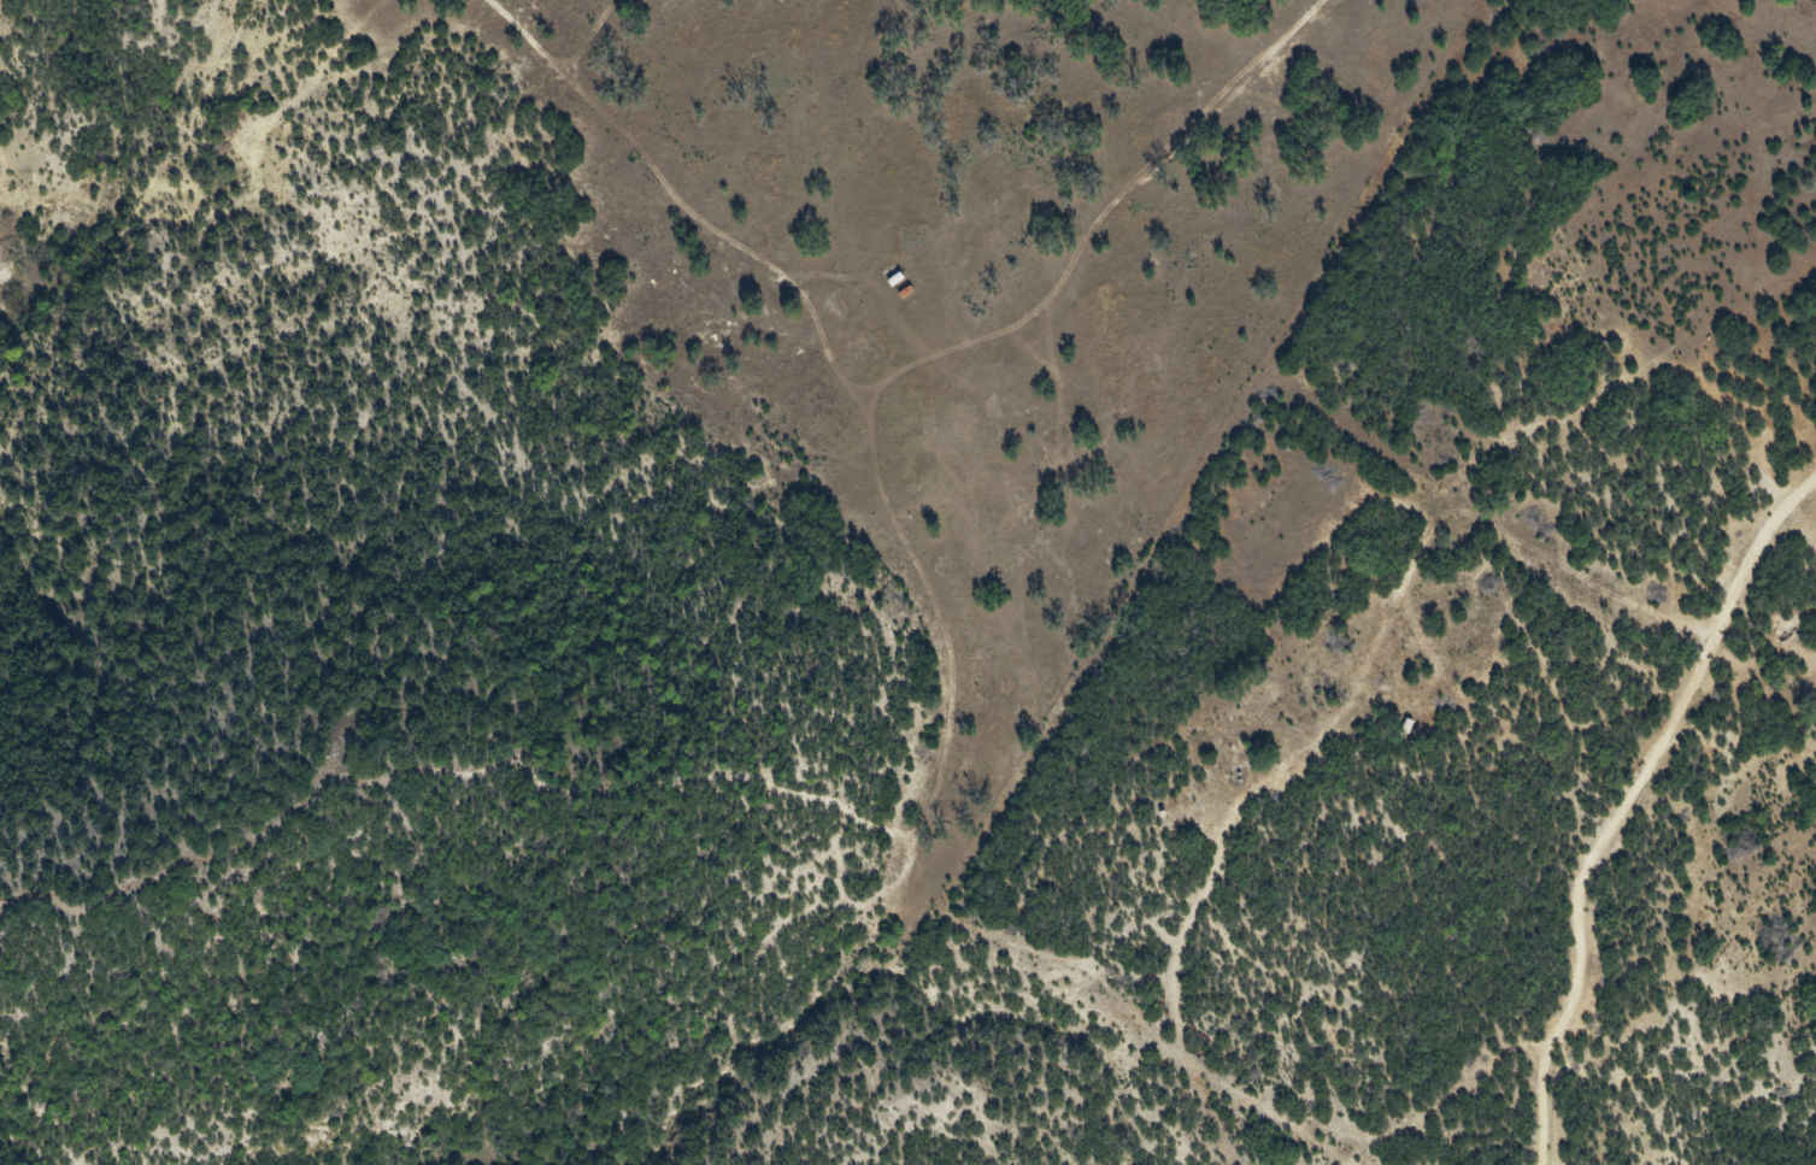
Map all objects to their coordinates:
road: (1620, 804)

